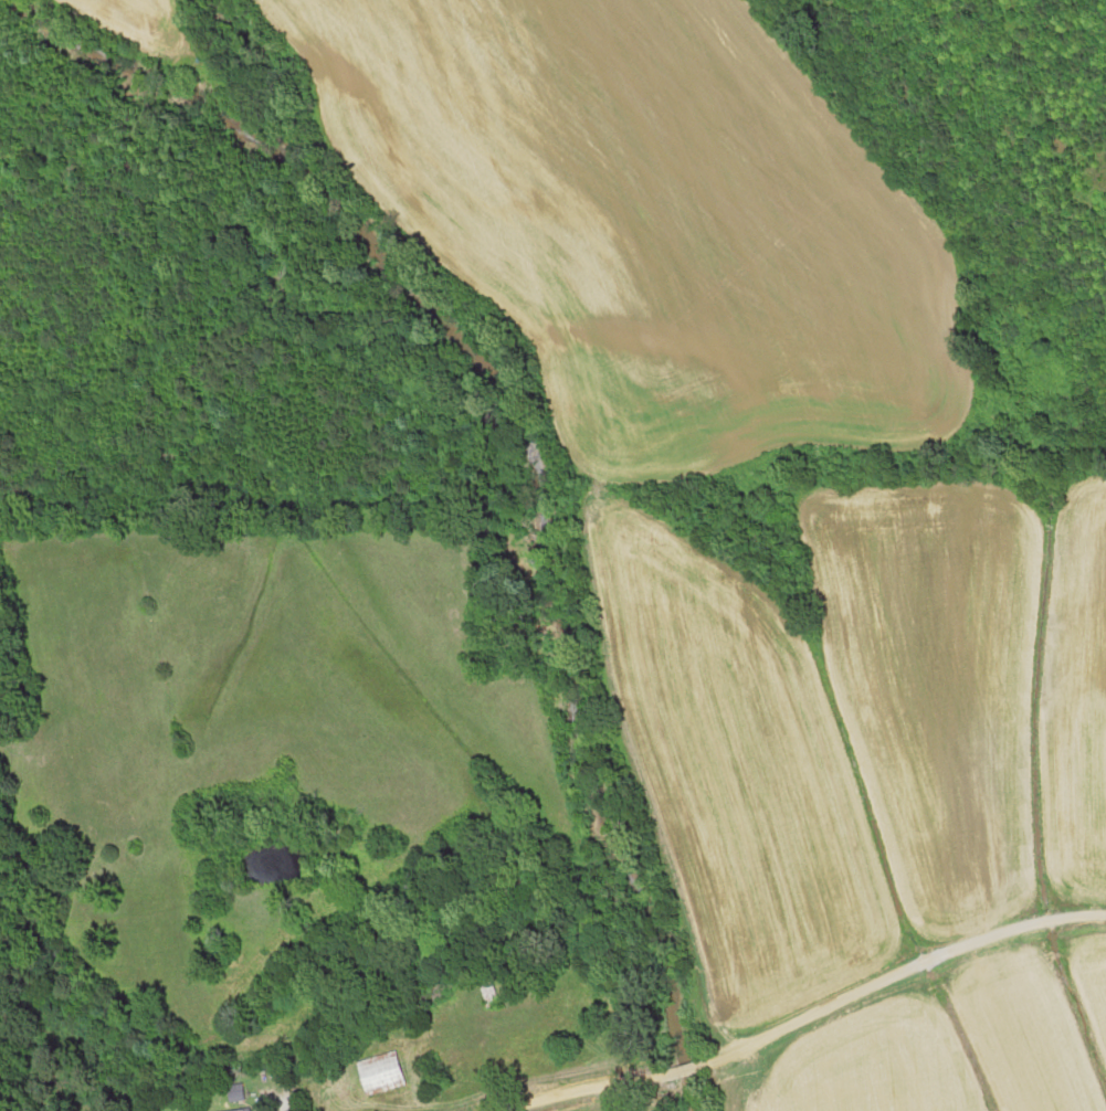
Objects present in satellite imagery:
building: (486, 997)
road: (807, 1015)
building: (377, 1075)

